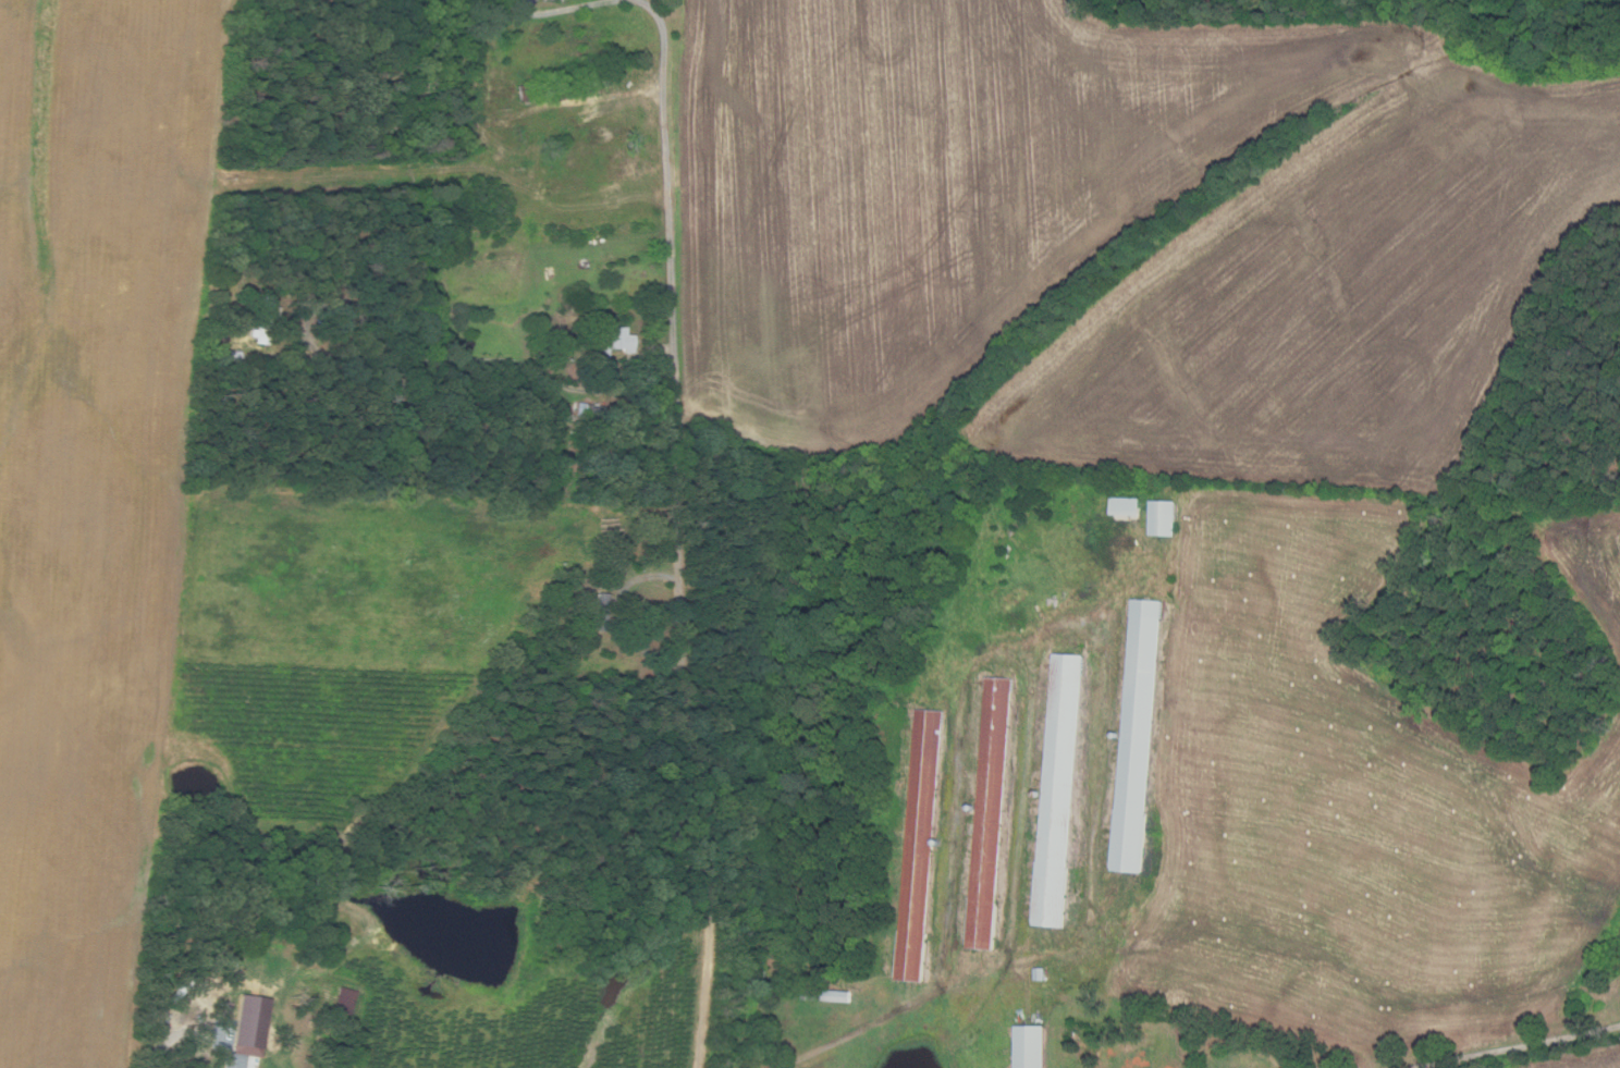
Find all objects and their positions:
road: (641, 1)
building: (528, 2)
road: (559, 10)
building: (524, 91)
building: (518, 130)
crop: (1122, 229)
crop: (1122, 229)
building: (337, 284)
building: (307, 299)
building: (334, 312)
building: (265, 320)
building: (617, 341)
building: (233, 355)
building: (633, 370)
building: (650, 377)
building: (611, 409)
building: (589, 410)
crop: (156, 506)
building: (1129, 506)
building: (1166, 517)
road: (676, 538)
crop: (1585, 558)
building: (601, 612)
building: (1138, 736)
building: (1059, 790)
crop: (1359, 807)
building: (992, 813)
building: (922, 847)
building: (1042, 974)
building: (830, 996)
building: (345, 1002)
building: (185, 1003)
building: (224, 1009)
building: (251, 1022)
road: (866, 1029)
road: (192, 1033)
building: (770, 1040)
building: (284, 1043)
building: (1031, 1047)
road: (1519, 1047)
crop: (1587, 1060)

